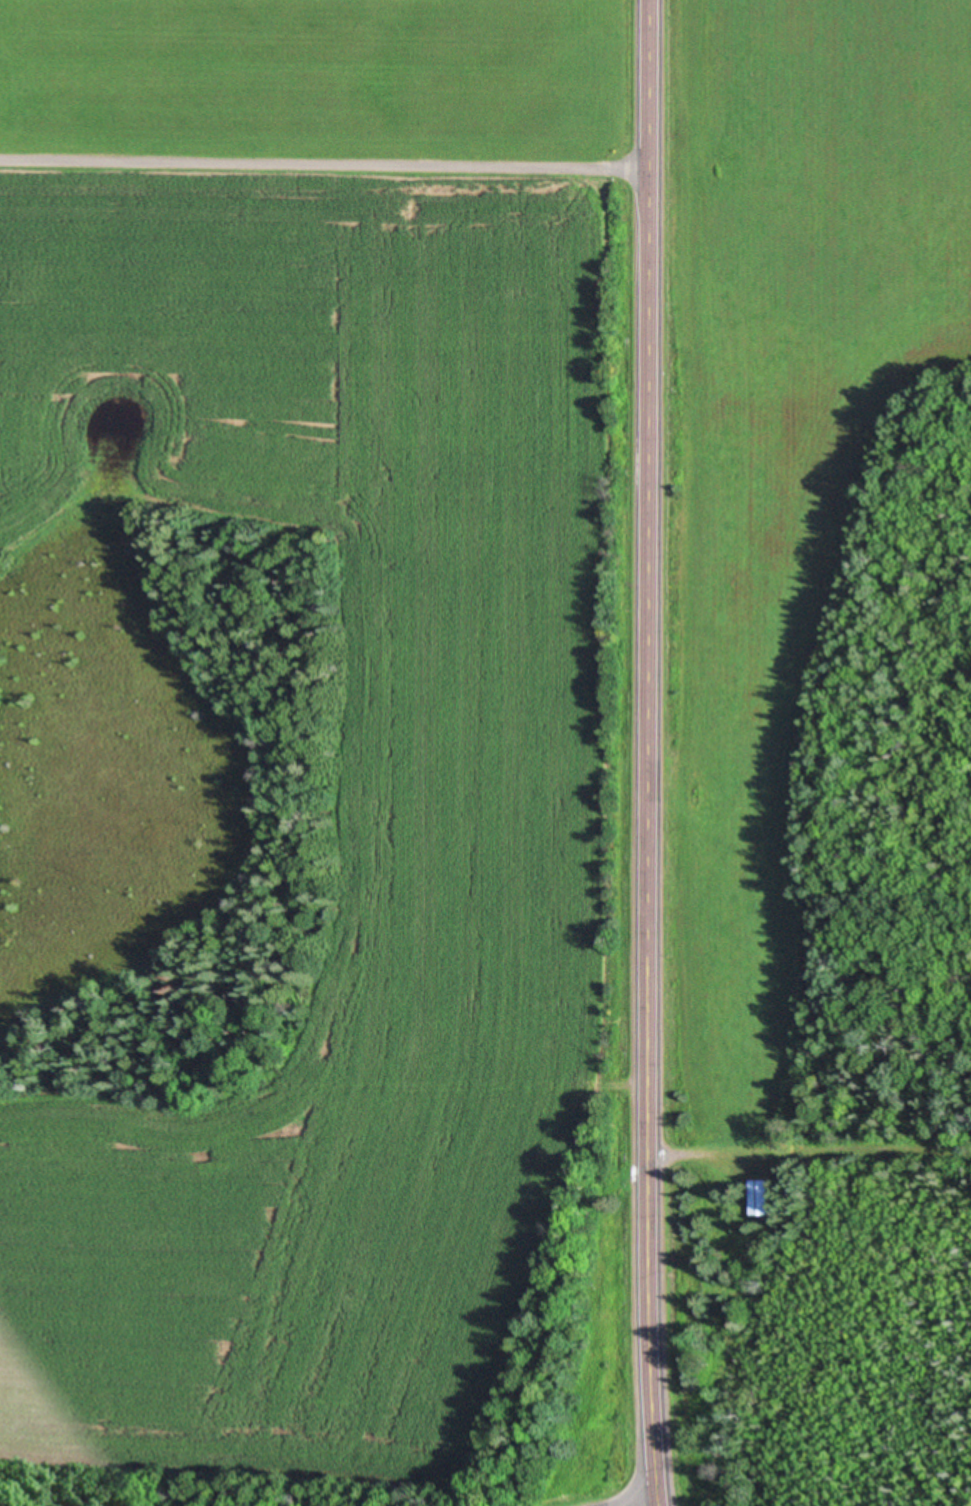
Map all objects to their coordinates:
road: (325, 163)
road: (651, 752)
building: (761, 1198)

